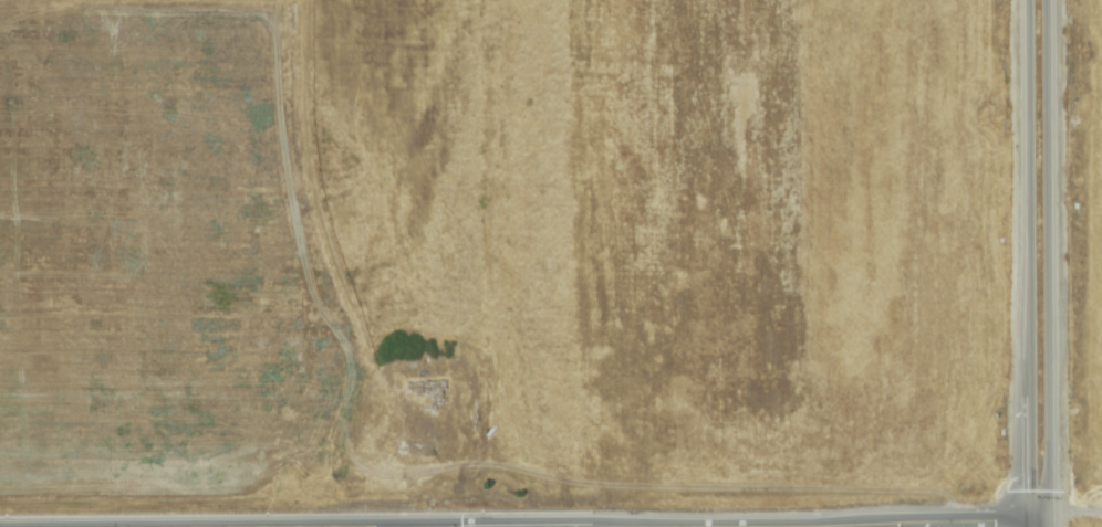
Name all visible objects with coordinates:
road: (1026, 263)
road: (1046, 263)
road: (1074, 524)
road: (958, 526)

